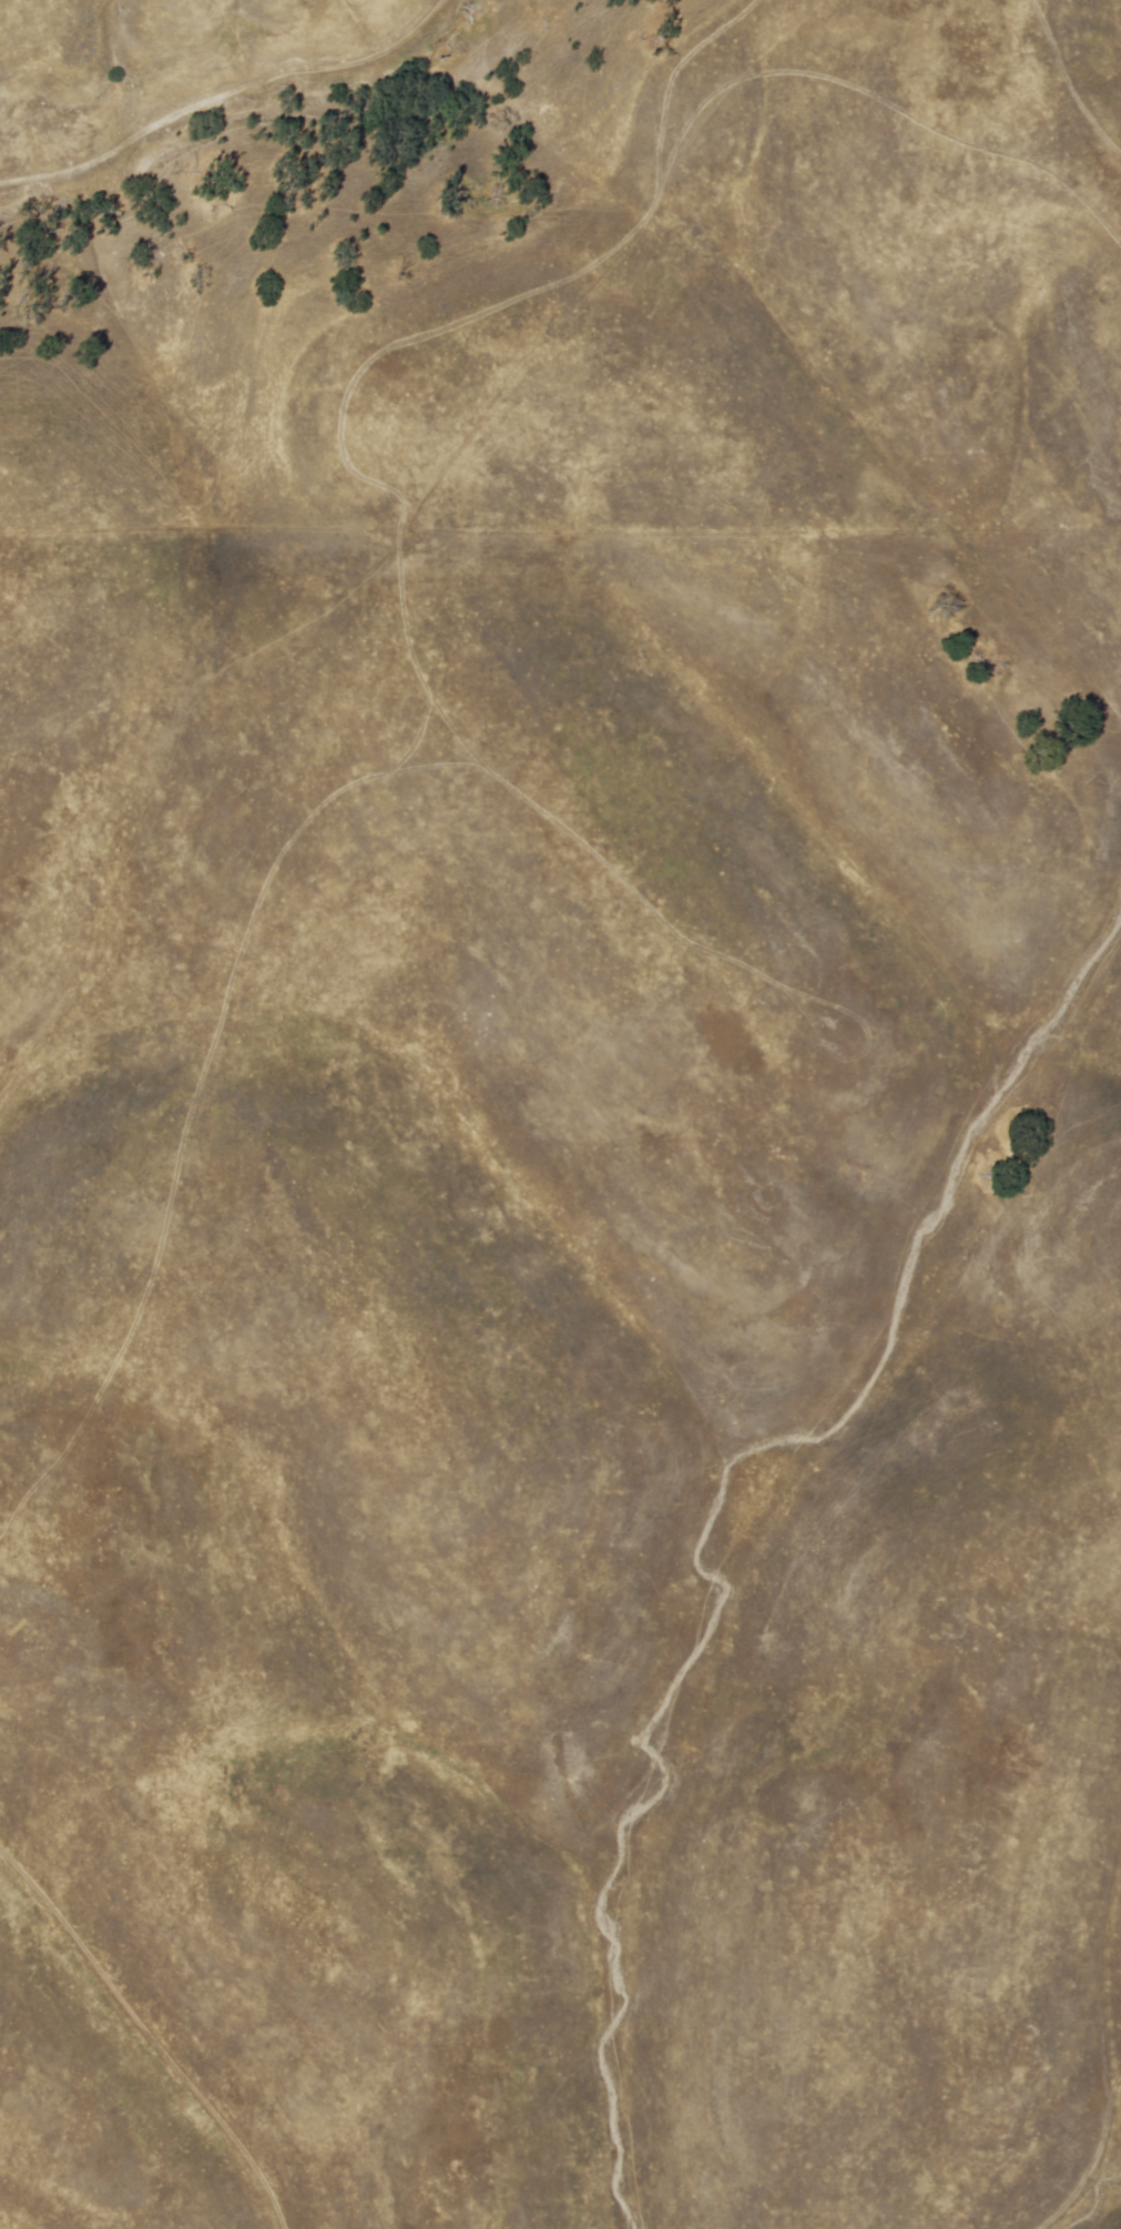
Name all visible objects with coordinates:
road: (221, 92)

